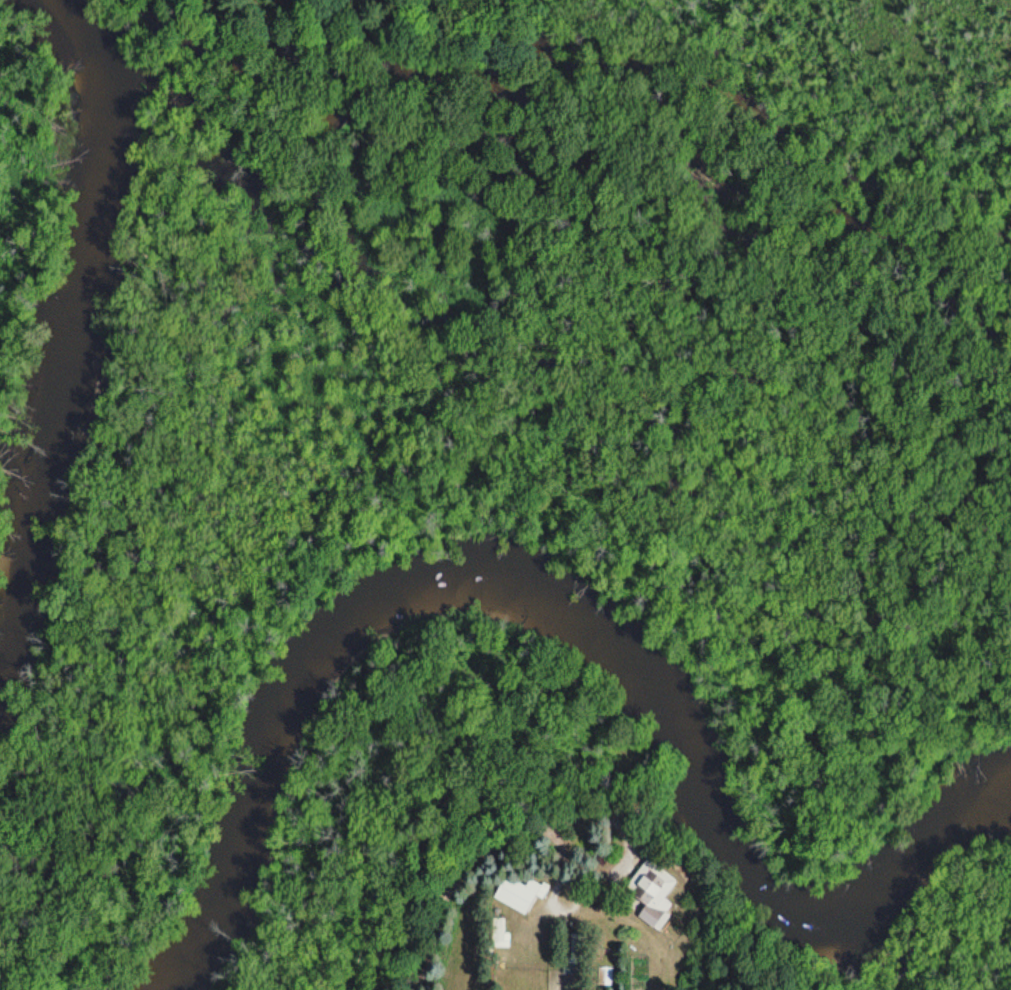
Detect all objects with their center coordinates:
river: (88, 332)
river: (564, 620)
building: (652, 893)
building: (518, 895)
building: (500, 934)
building: (605, 976)

